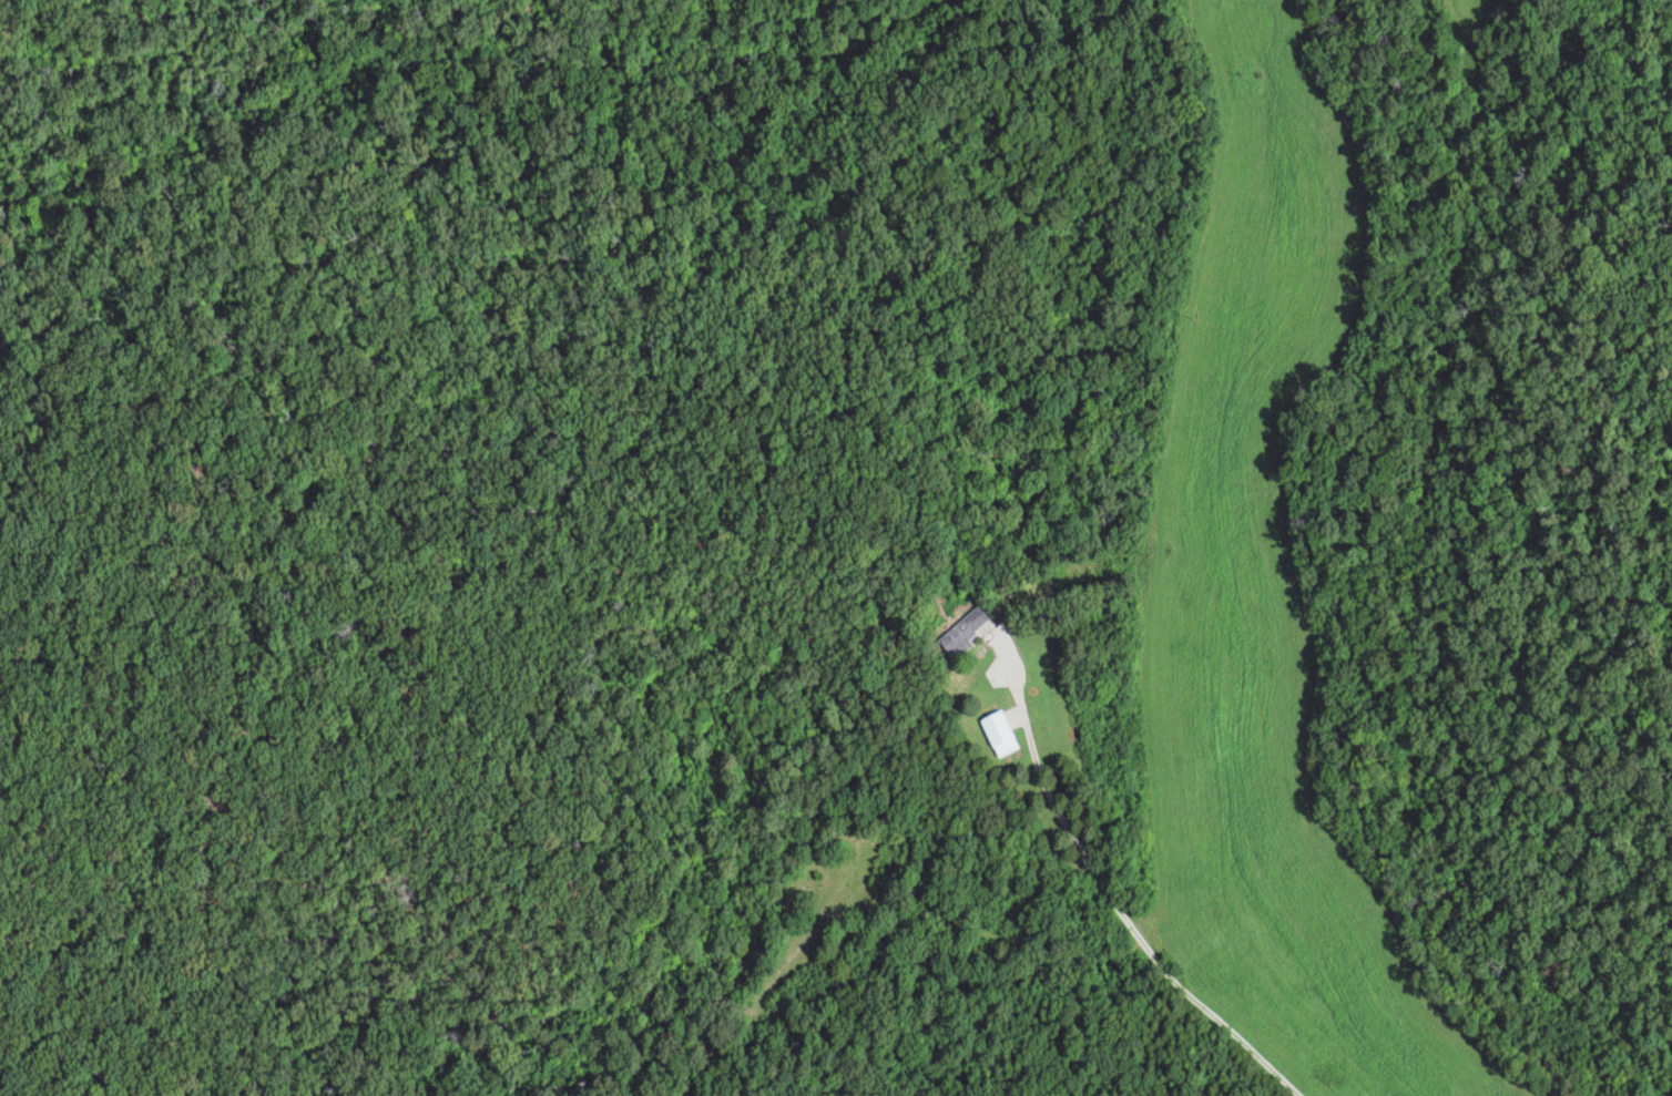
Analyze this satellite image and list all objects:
building: (968, 633)
building: (1003, 734)
road: (1104, 889)

